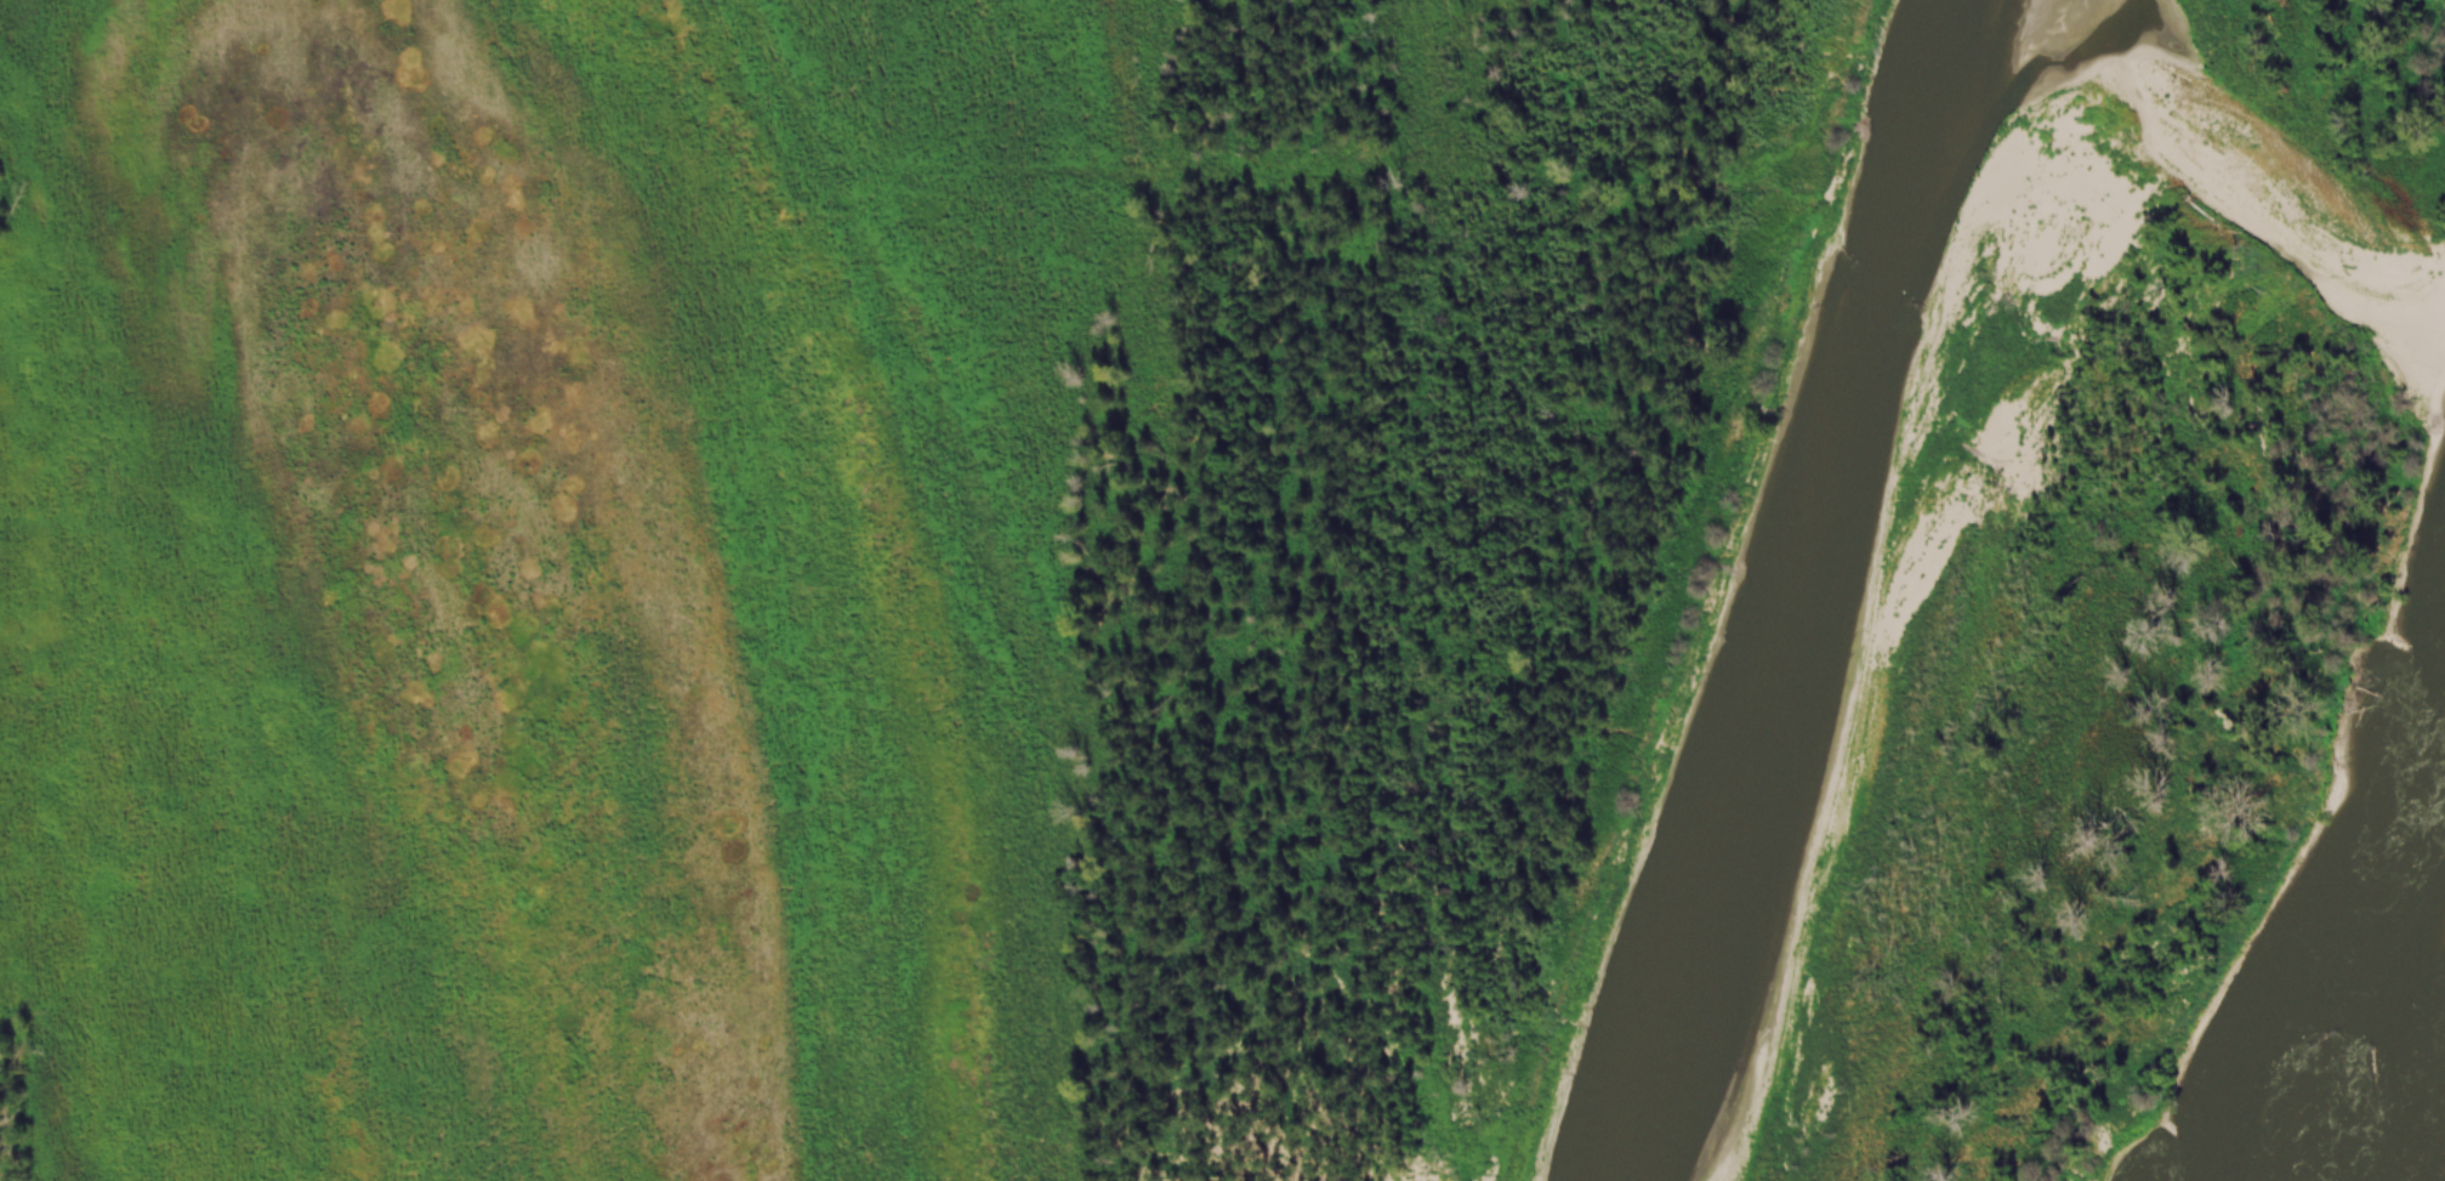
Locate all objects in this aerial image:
road: (1668, 591)

